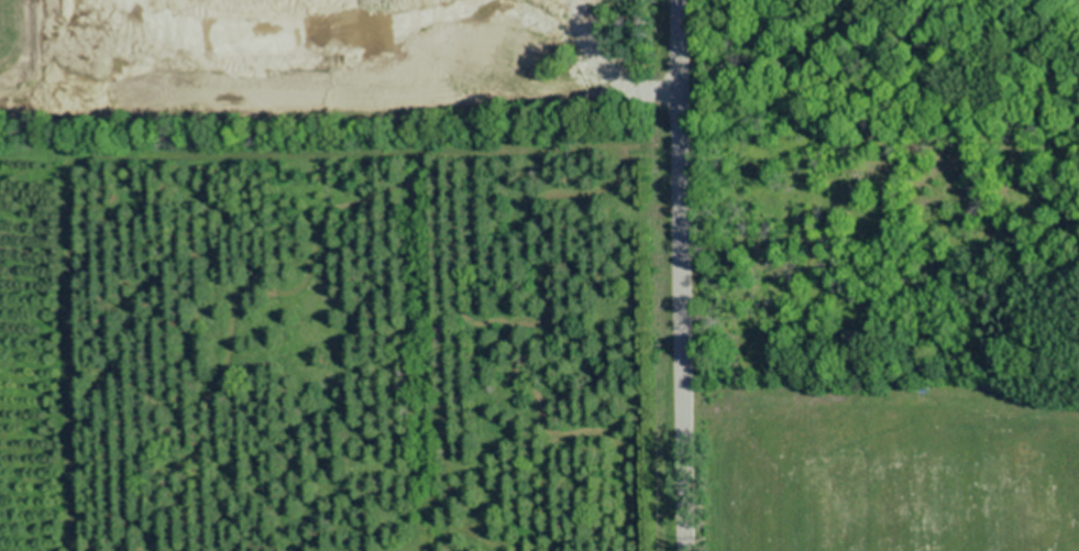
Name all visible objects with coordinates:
quarry: (332, 74)
road: (685, 275)

